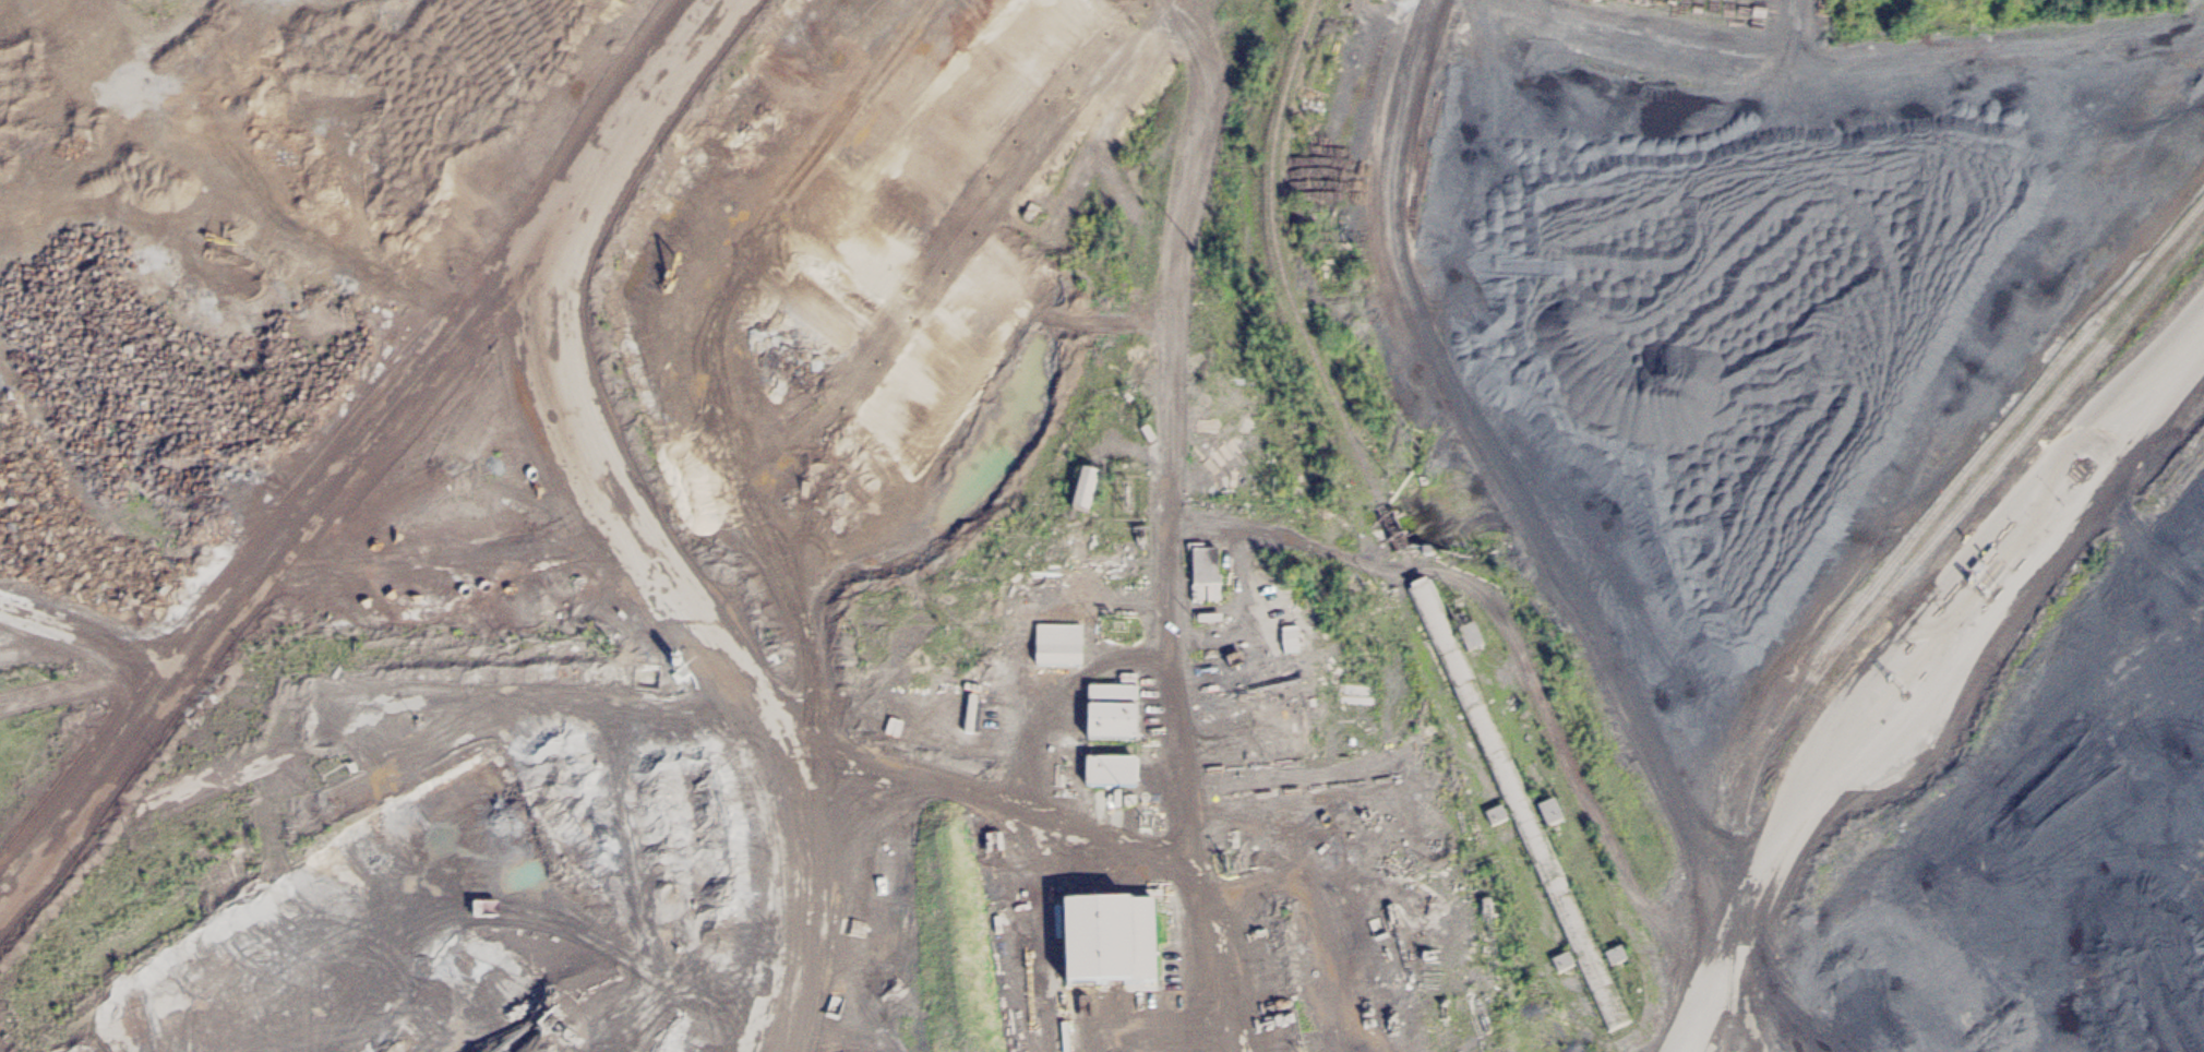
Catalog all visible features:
railway: (1880, 603)
landfill: (2053, 834)

